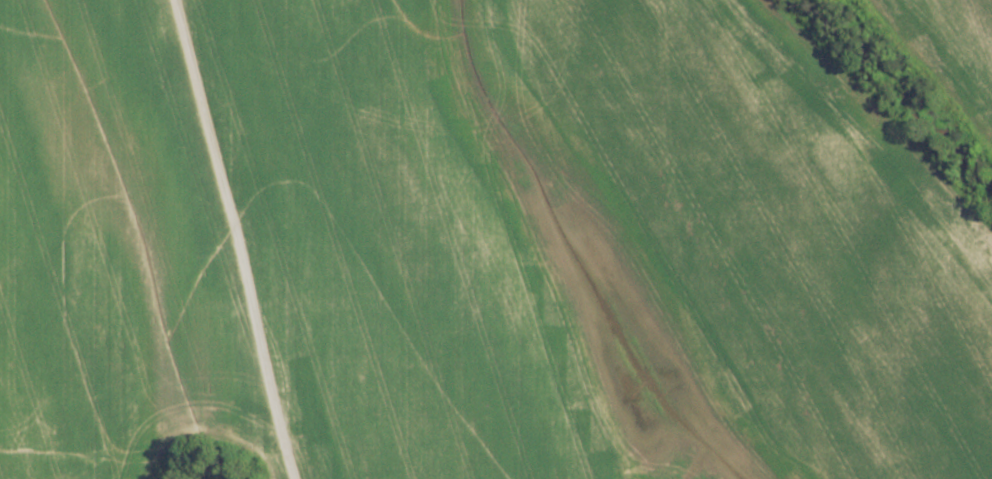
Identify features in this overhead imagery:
road: (233, 241)

